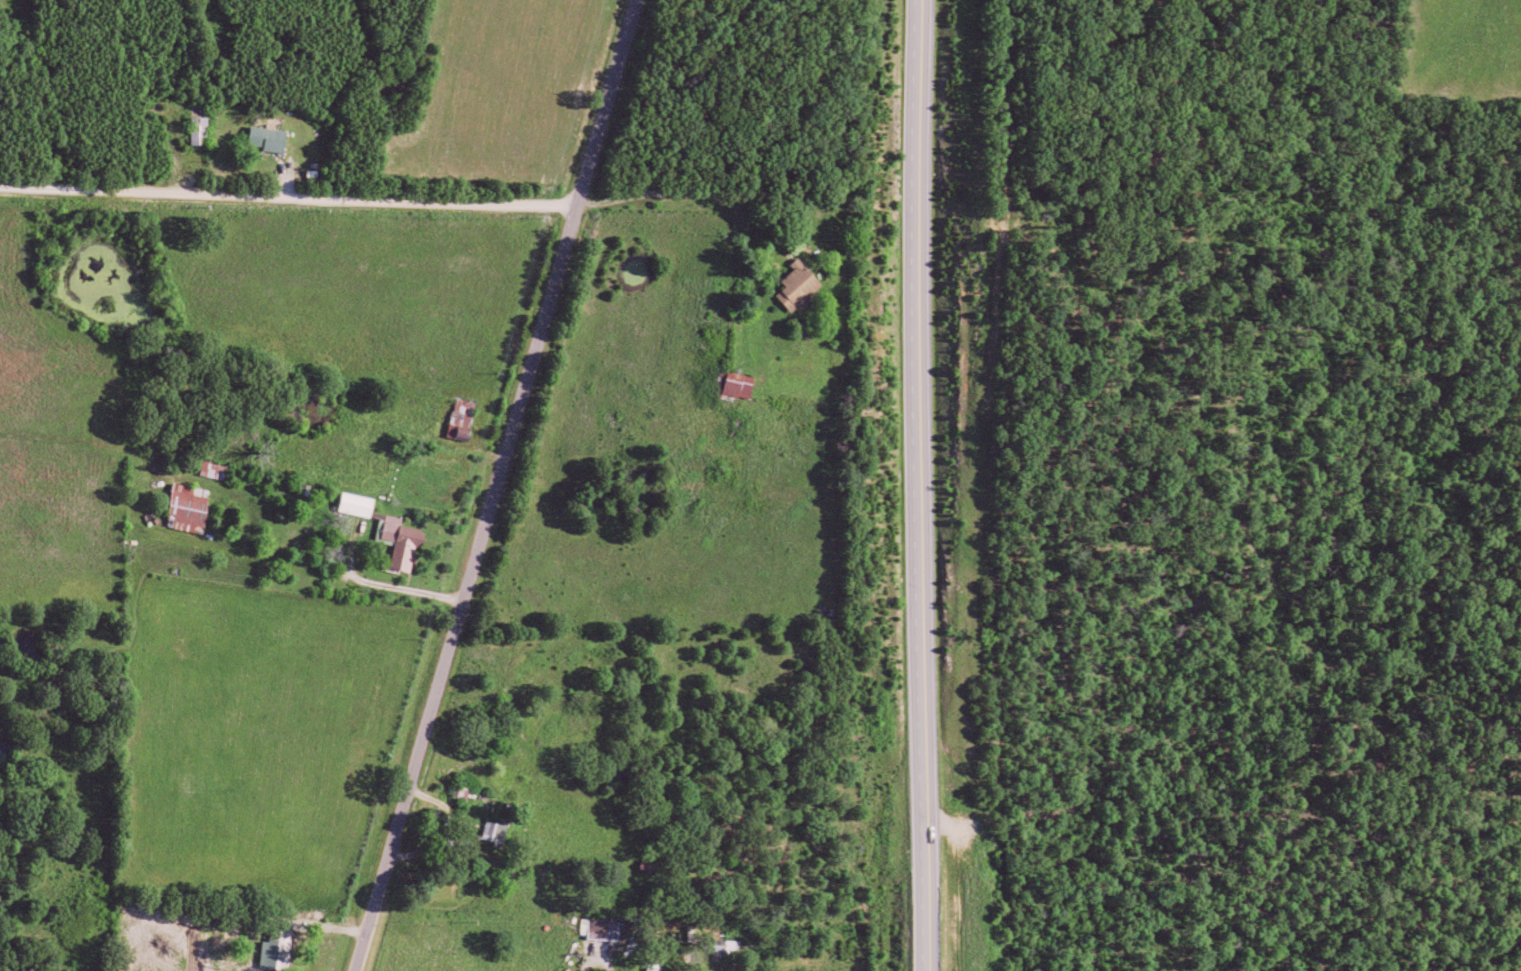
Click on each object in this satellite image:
building: (204, 129)
building: (272, 137)
road: (288, 198)
building: (801, 283)
building: (742, 383)
road: (359, 415)
building: (465, 419)
road: (493, 485)
road: (919, 485)
building: (360, 503)
building: (193, 506)
building: (406, 540)
road: (374, 582)
road: (458, 837)
building: (604, 927)
building: (282, 948)
road: (597, 960)
building: (657, 965)

